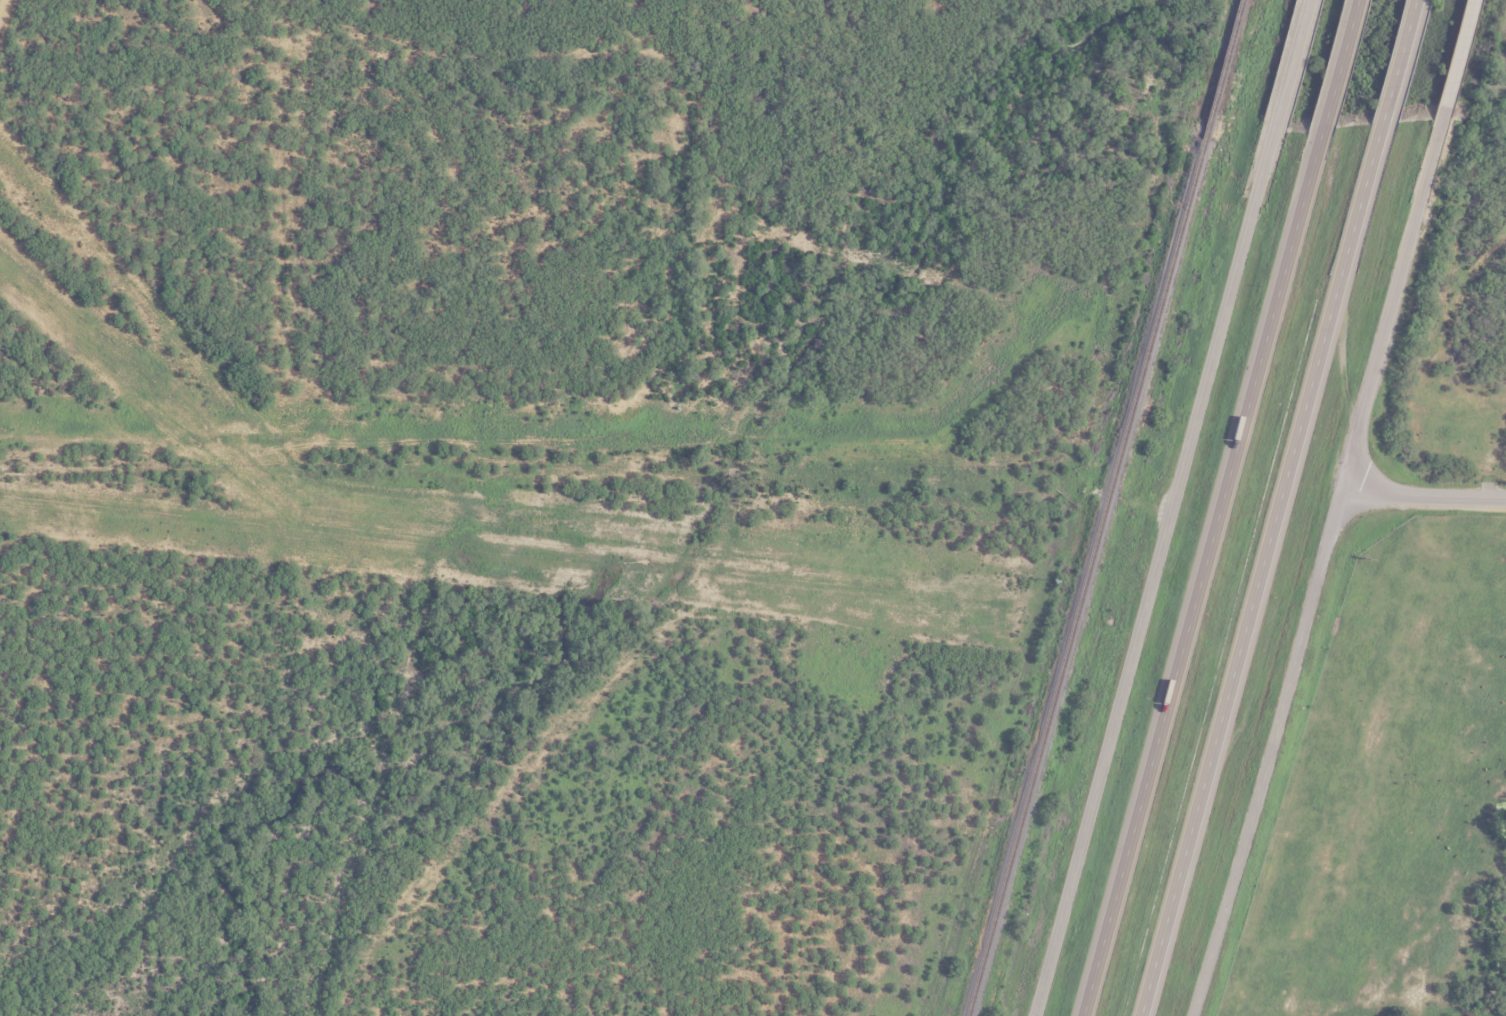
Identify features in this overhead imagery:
road: (1, 6)
road: (1456, 59)
road: (1398, 61)
road: (1292, 63)
railway: (1219, 69)
road: (1423, 495)
road: (1219, 508)
road: (1260, 568)
road: (1319, 568)
road: (1154, 571)
railway: (1082, 577)

